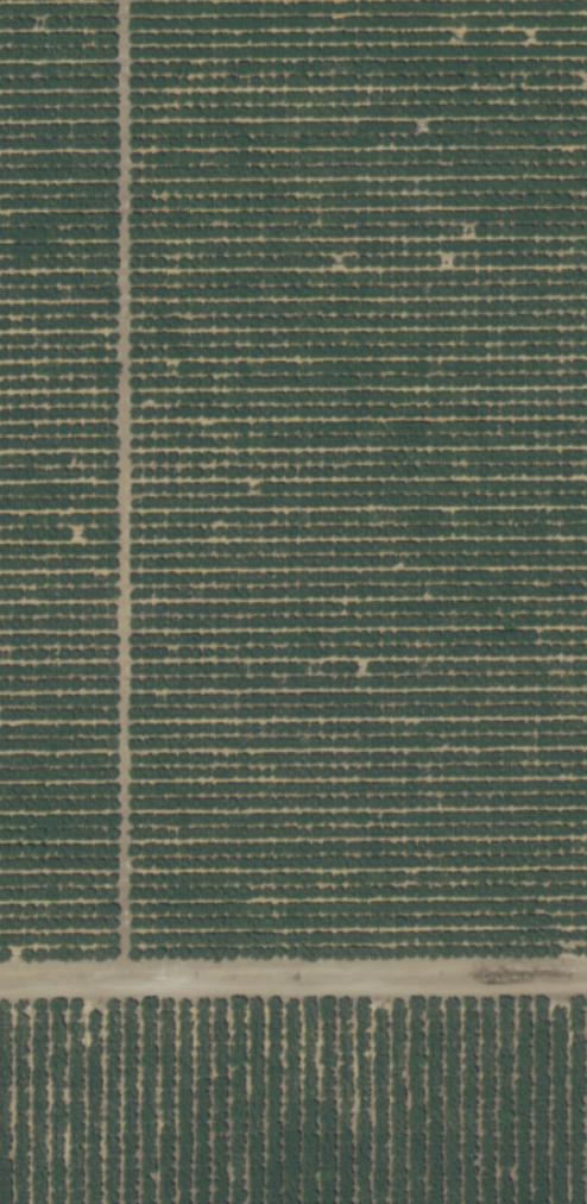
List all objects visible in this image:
road: (293, 983)

